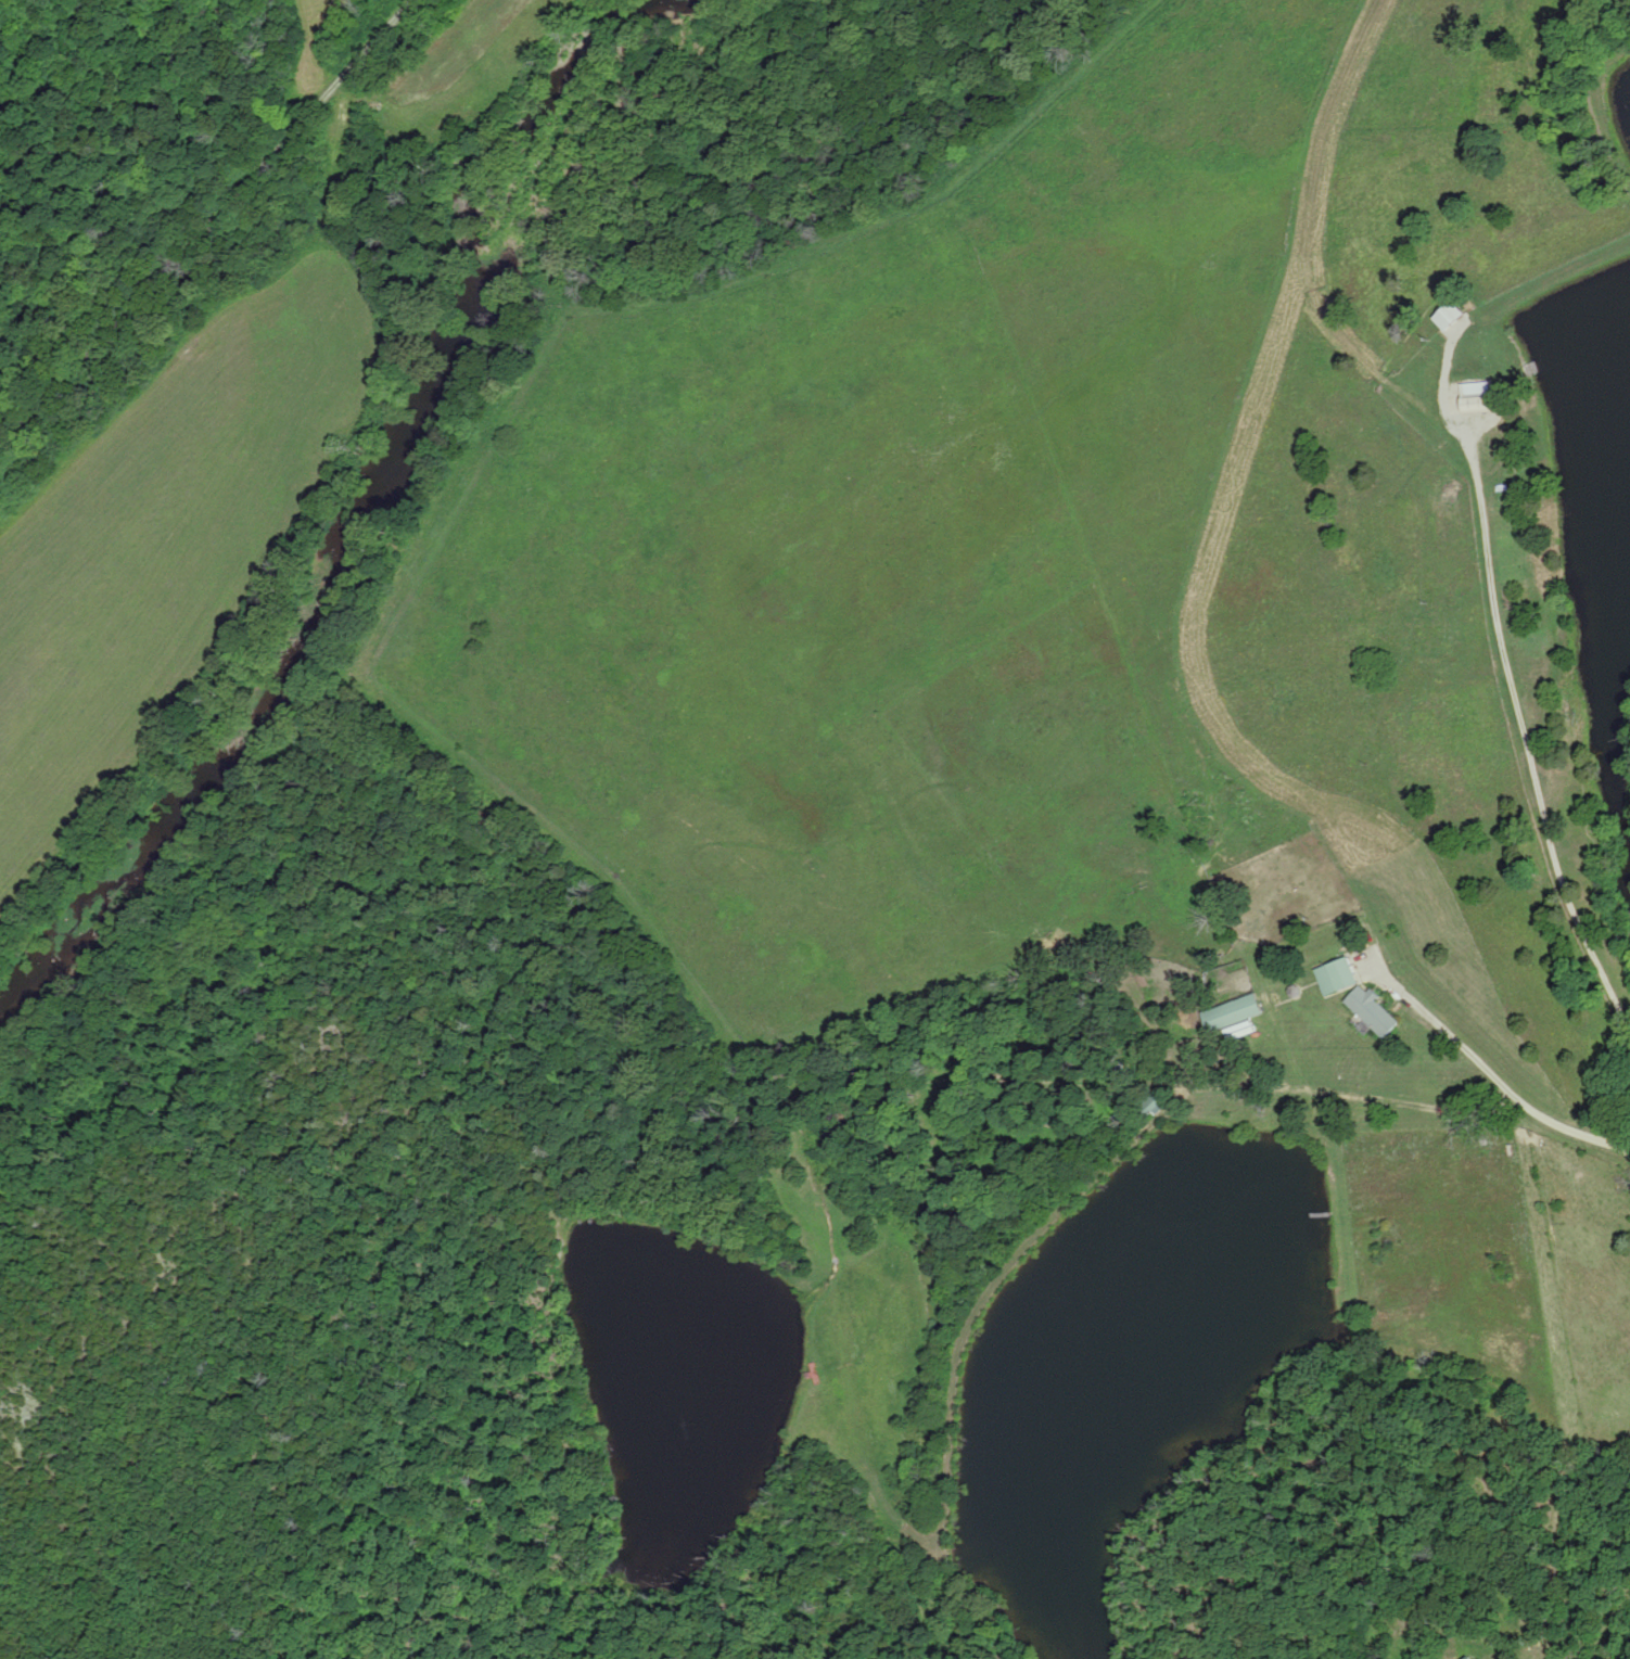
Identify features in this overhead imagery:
building: (1477, 398)
river: (375, 505)
road: (1525, 749)
building: (1337, 978)
building: (1372, 1012)
building: (1233, 1014)
road: (1500, 1085)
building: (1153, 1106)
building: (1470, 1658)

